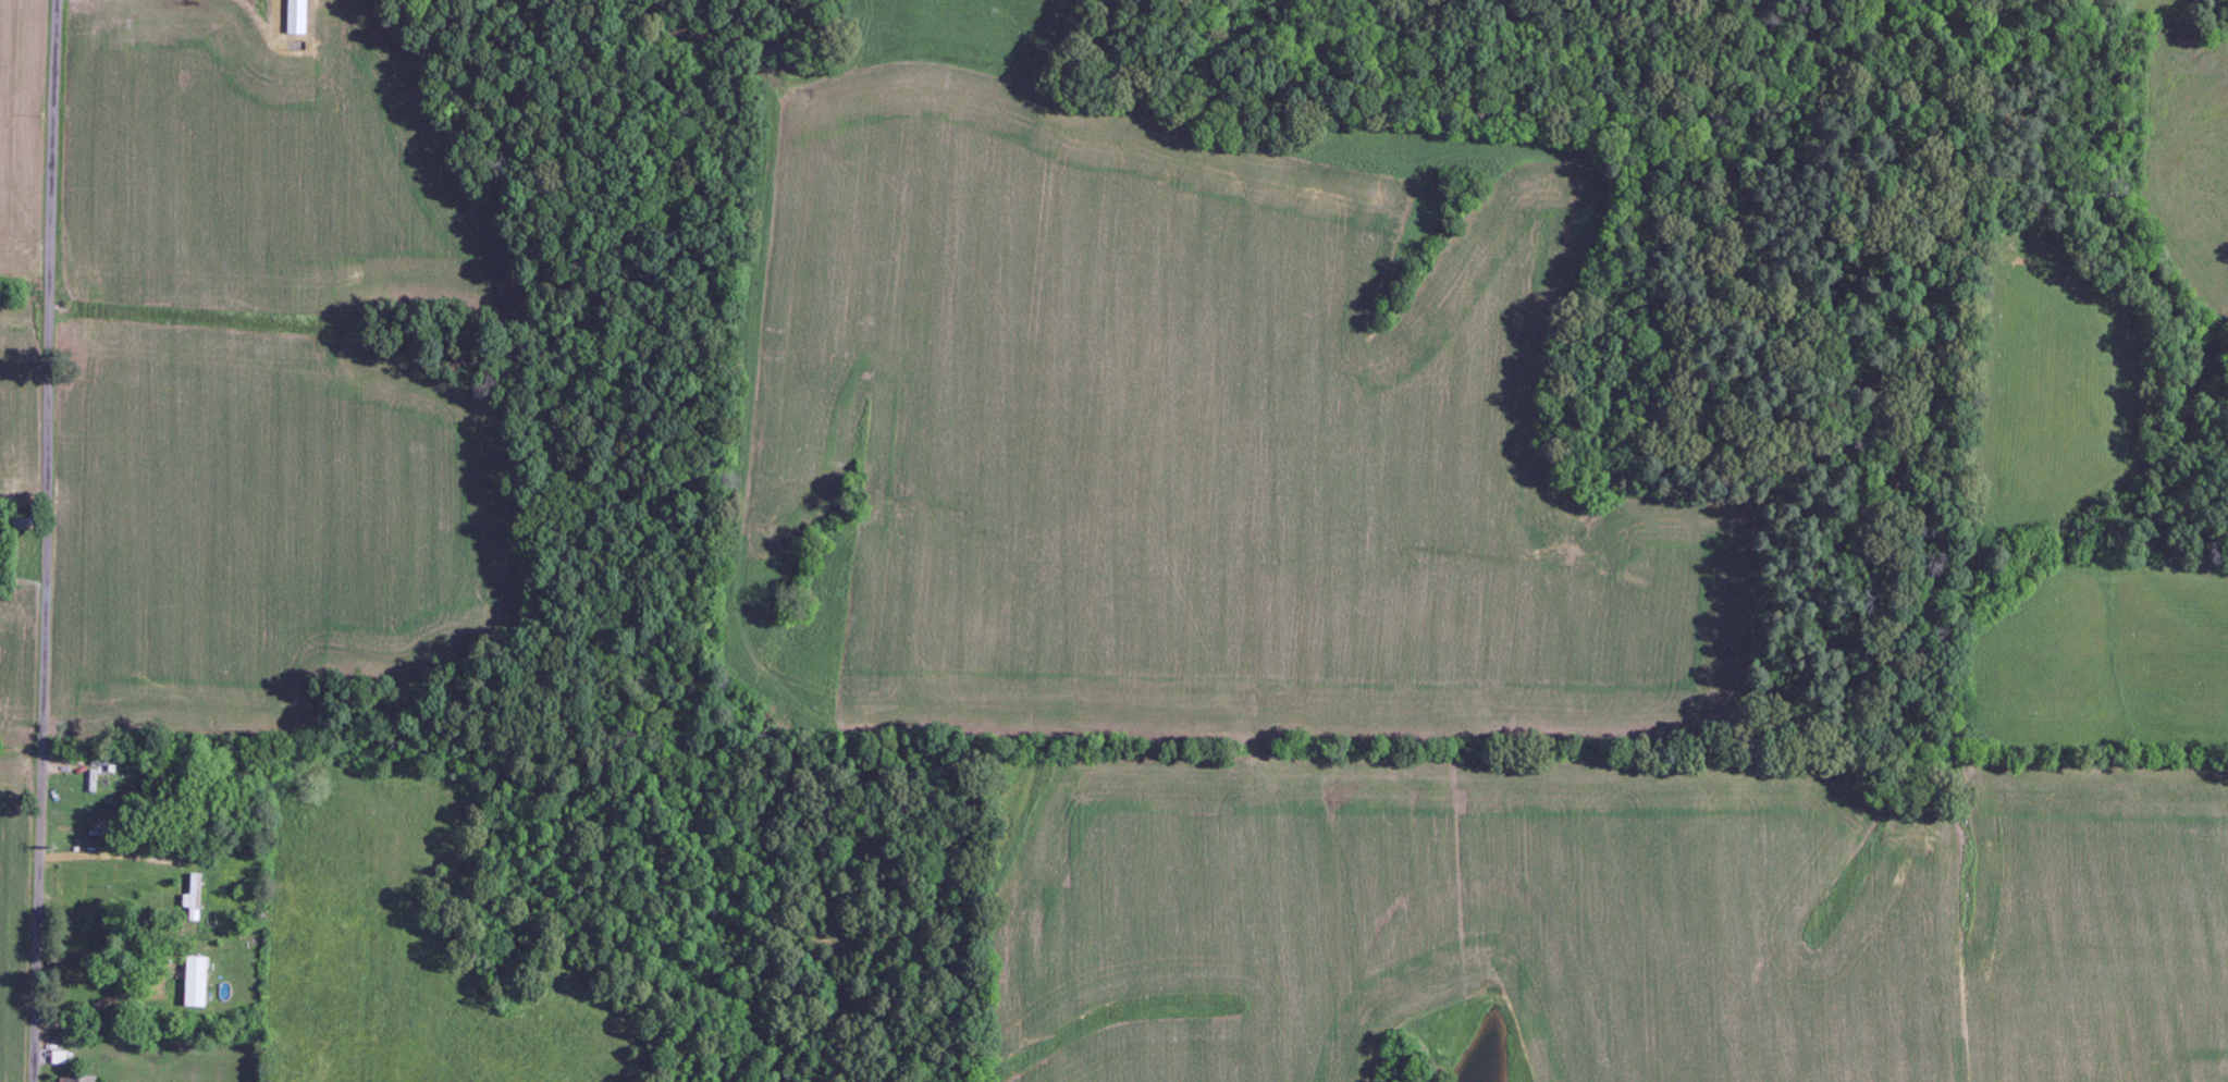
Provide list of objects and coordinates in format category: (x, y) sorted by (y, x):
building: (300, 16)
road: (47, 541)
building: (196, 898)
building: (199, 983)
building: (79, 1079)

